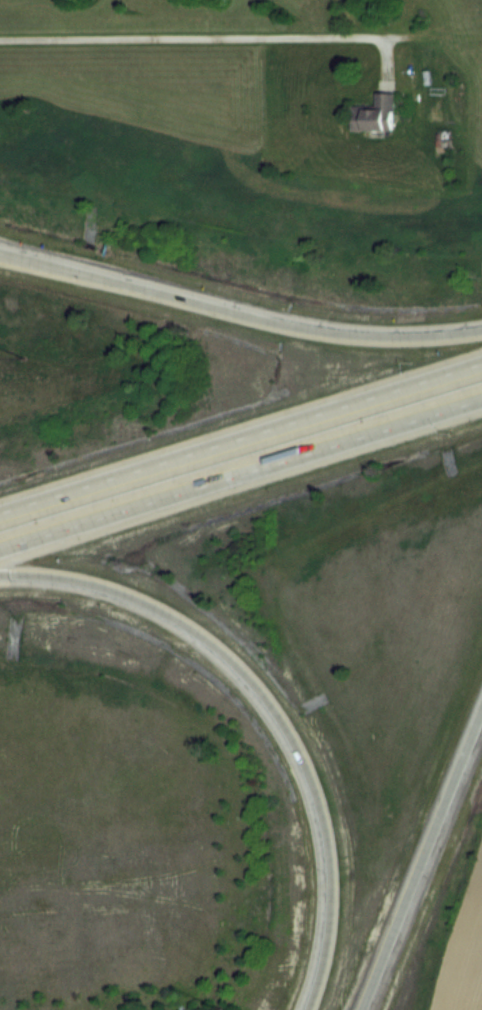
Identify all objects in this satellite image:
road: (190, 38)
building: (373, 113)
road: (239, 311)
road: (241, 437)
road: (241, 476)
road: (270, 709)
road: (420, 862)
crop: (463, 959)

